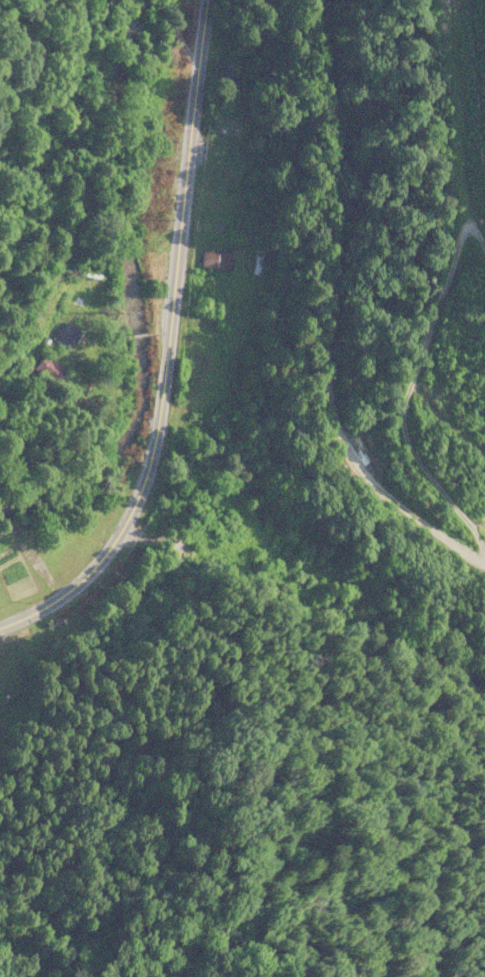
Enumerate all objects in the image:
building: (227, 130)
building: (219, 260)
building: (67, 333)
road: (165, 343)
building: (50, 368)
building: (315, 580)

